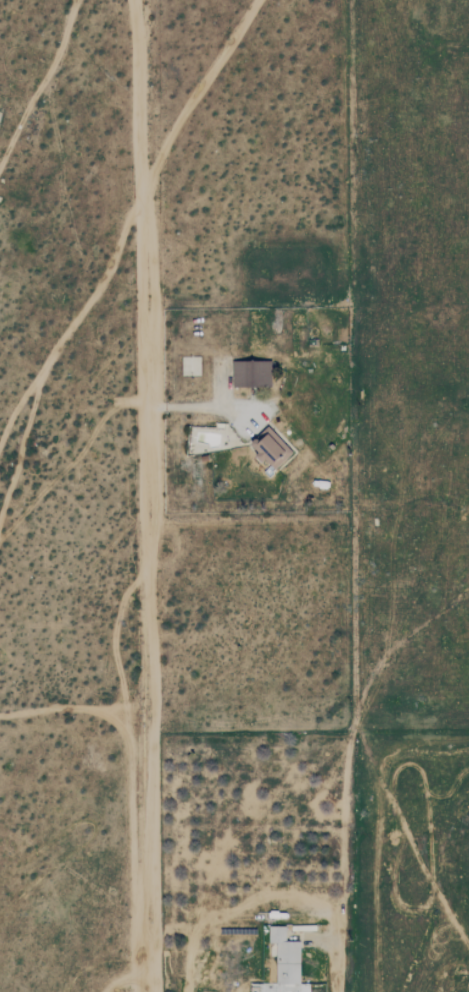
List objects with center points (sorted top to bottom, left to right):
building: (251, 374)
road: (204, 408)
building: (269, 448)
road: (145, 496)
road: (269, 894)
building: (285, 957)

